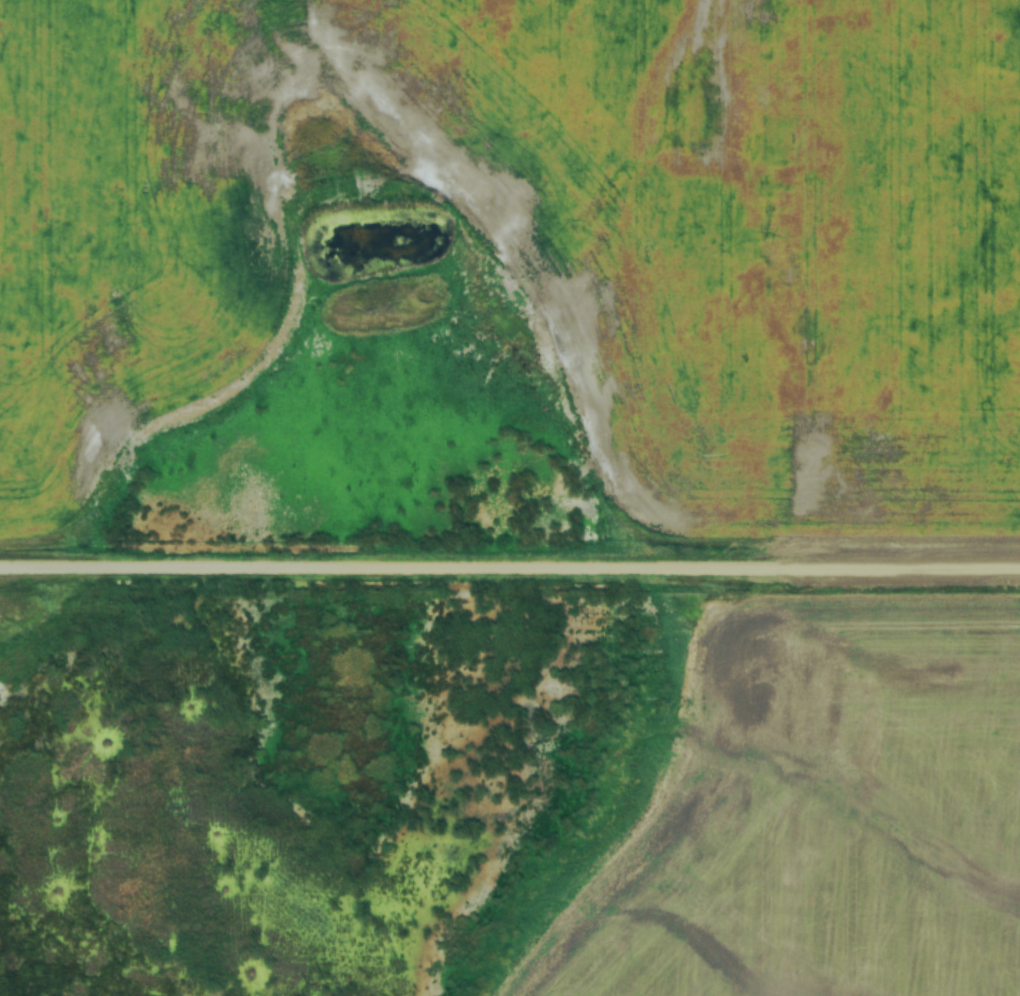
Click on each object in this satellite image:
road: (510, 567)

